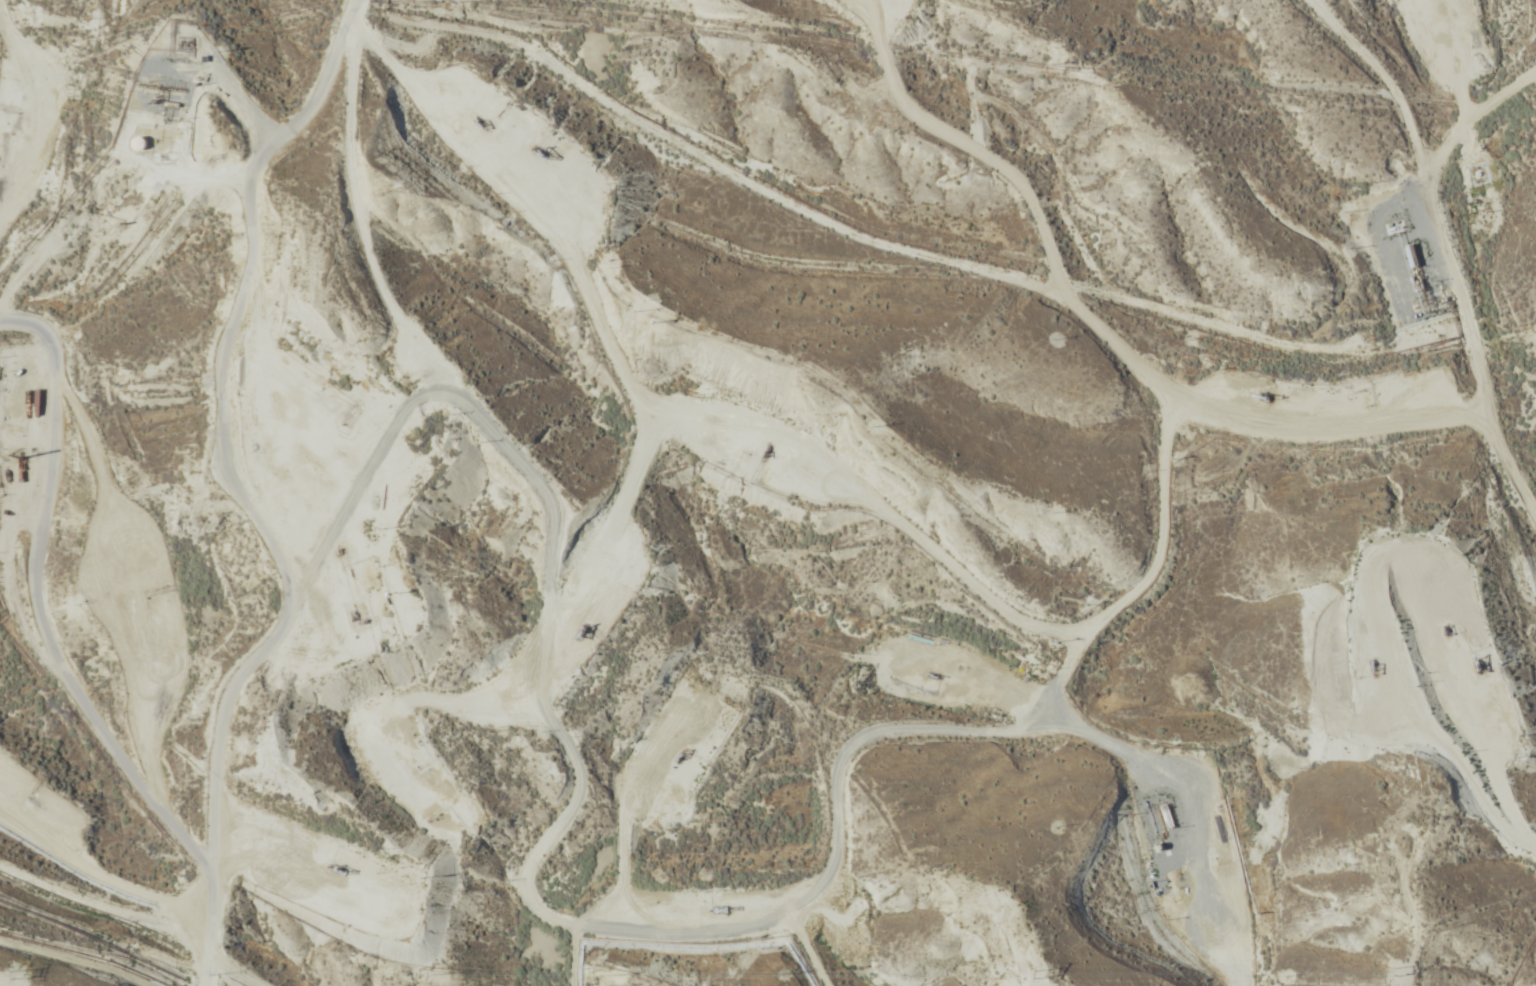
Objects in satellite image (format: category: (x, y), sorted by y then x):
road: (1497, 190)
road: (1464, 252)
building: (1410, 257)
road: (914, 320)
road: (253, 423)
road: (1127, 570)
road: (97, 680)
road: (413, 780)

